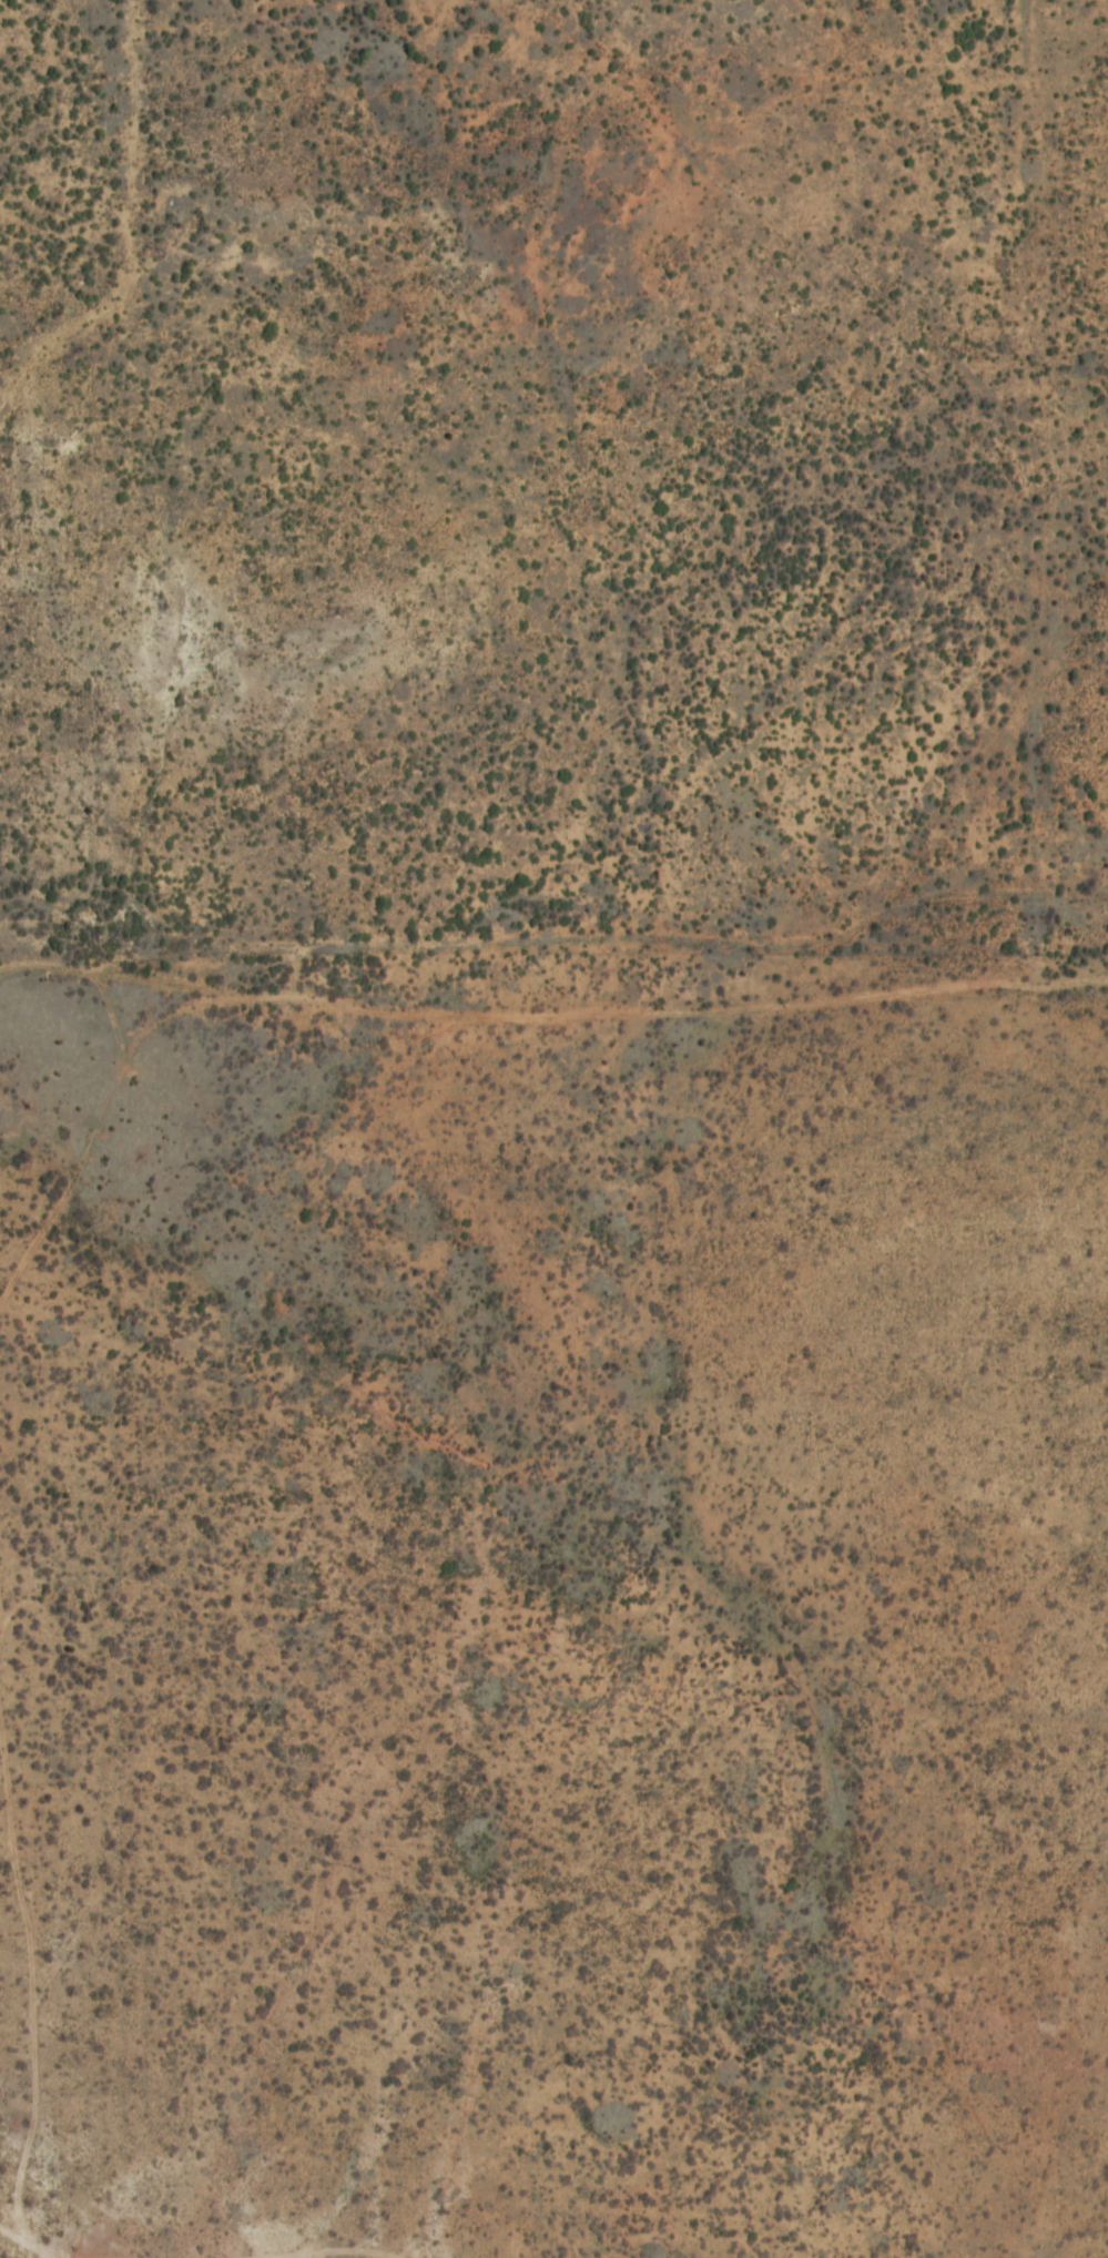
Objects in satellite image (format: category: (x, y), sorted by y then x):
road: (553, 1017)

